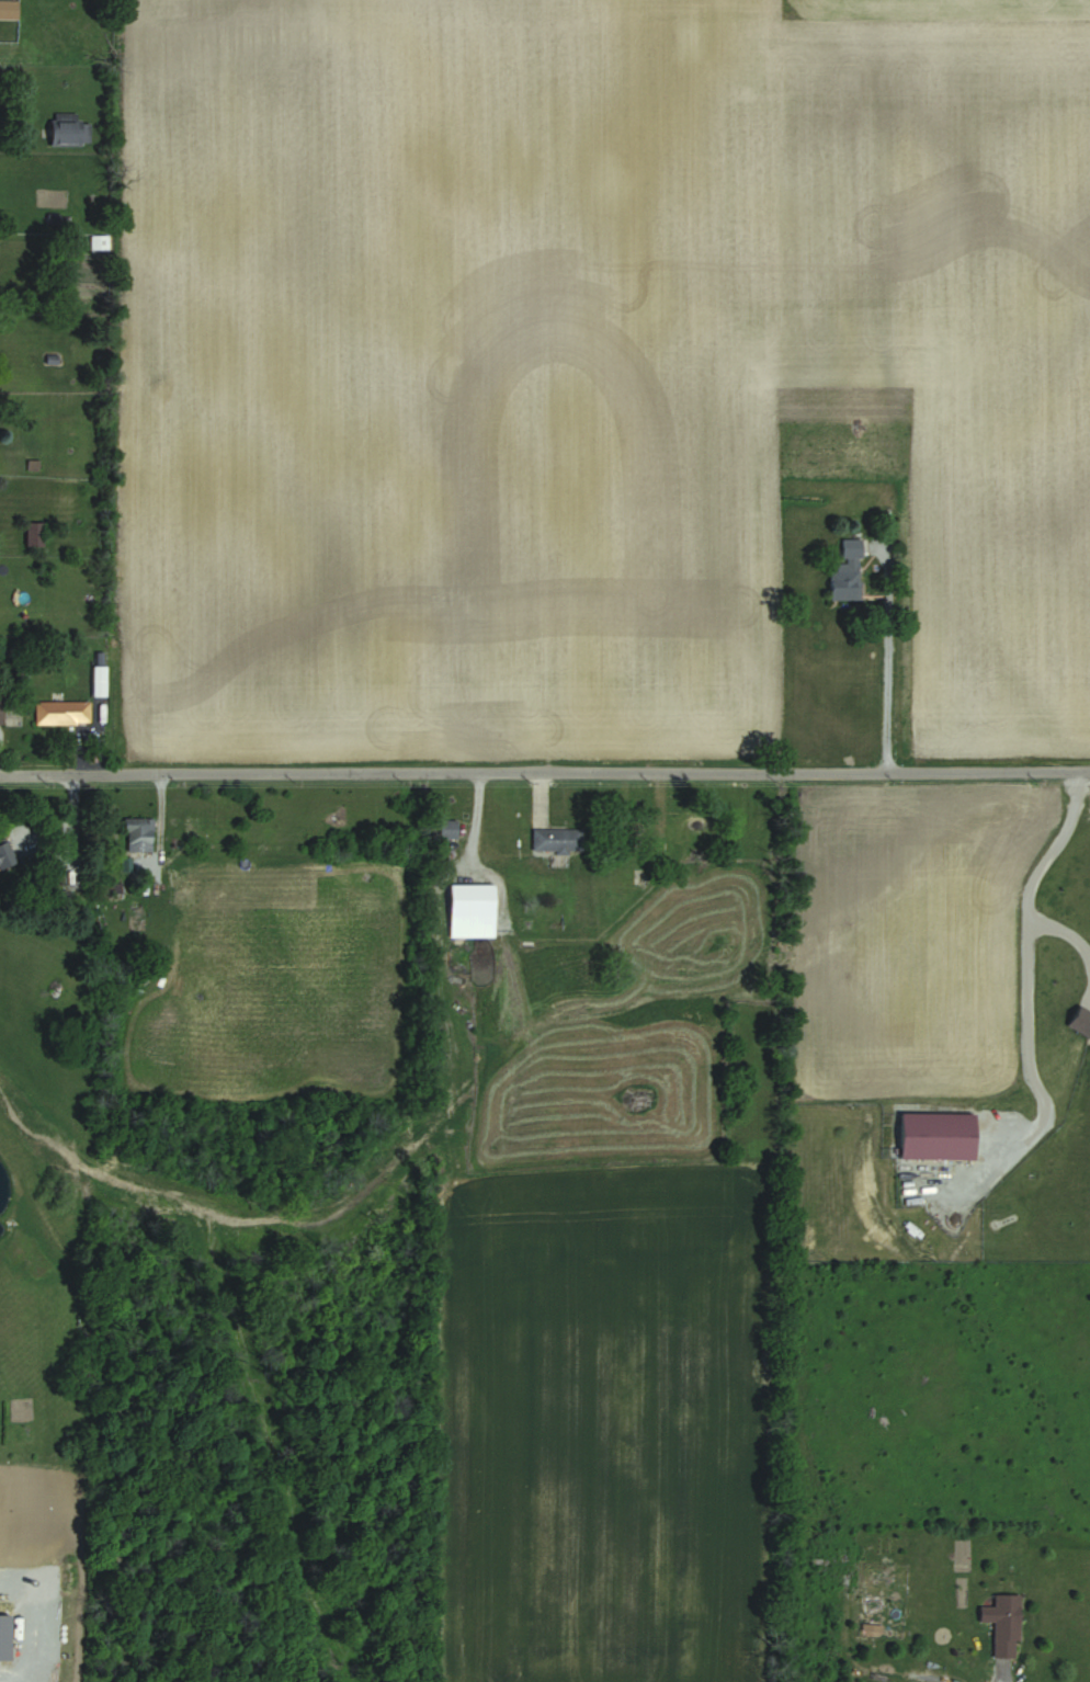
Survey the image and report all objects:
building: (8, 10)
building: (69, 133)
building: (98, 243)
building: (33, 533)
building: (847, 571)
road: (887, 657)
building: (0, 705)
building: (61, 713)
road: (545, 772)
building: (447, 829)
building: (138, 834)
building: (557, 840)
building: (5, 853)
building: (640, 876)
building: (470, 899)
road: (1026, 967)
building: (1081, 1024)
building: (938, 1135)
building: (1003, 1624)

